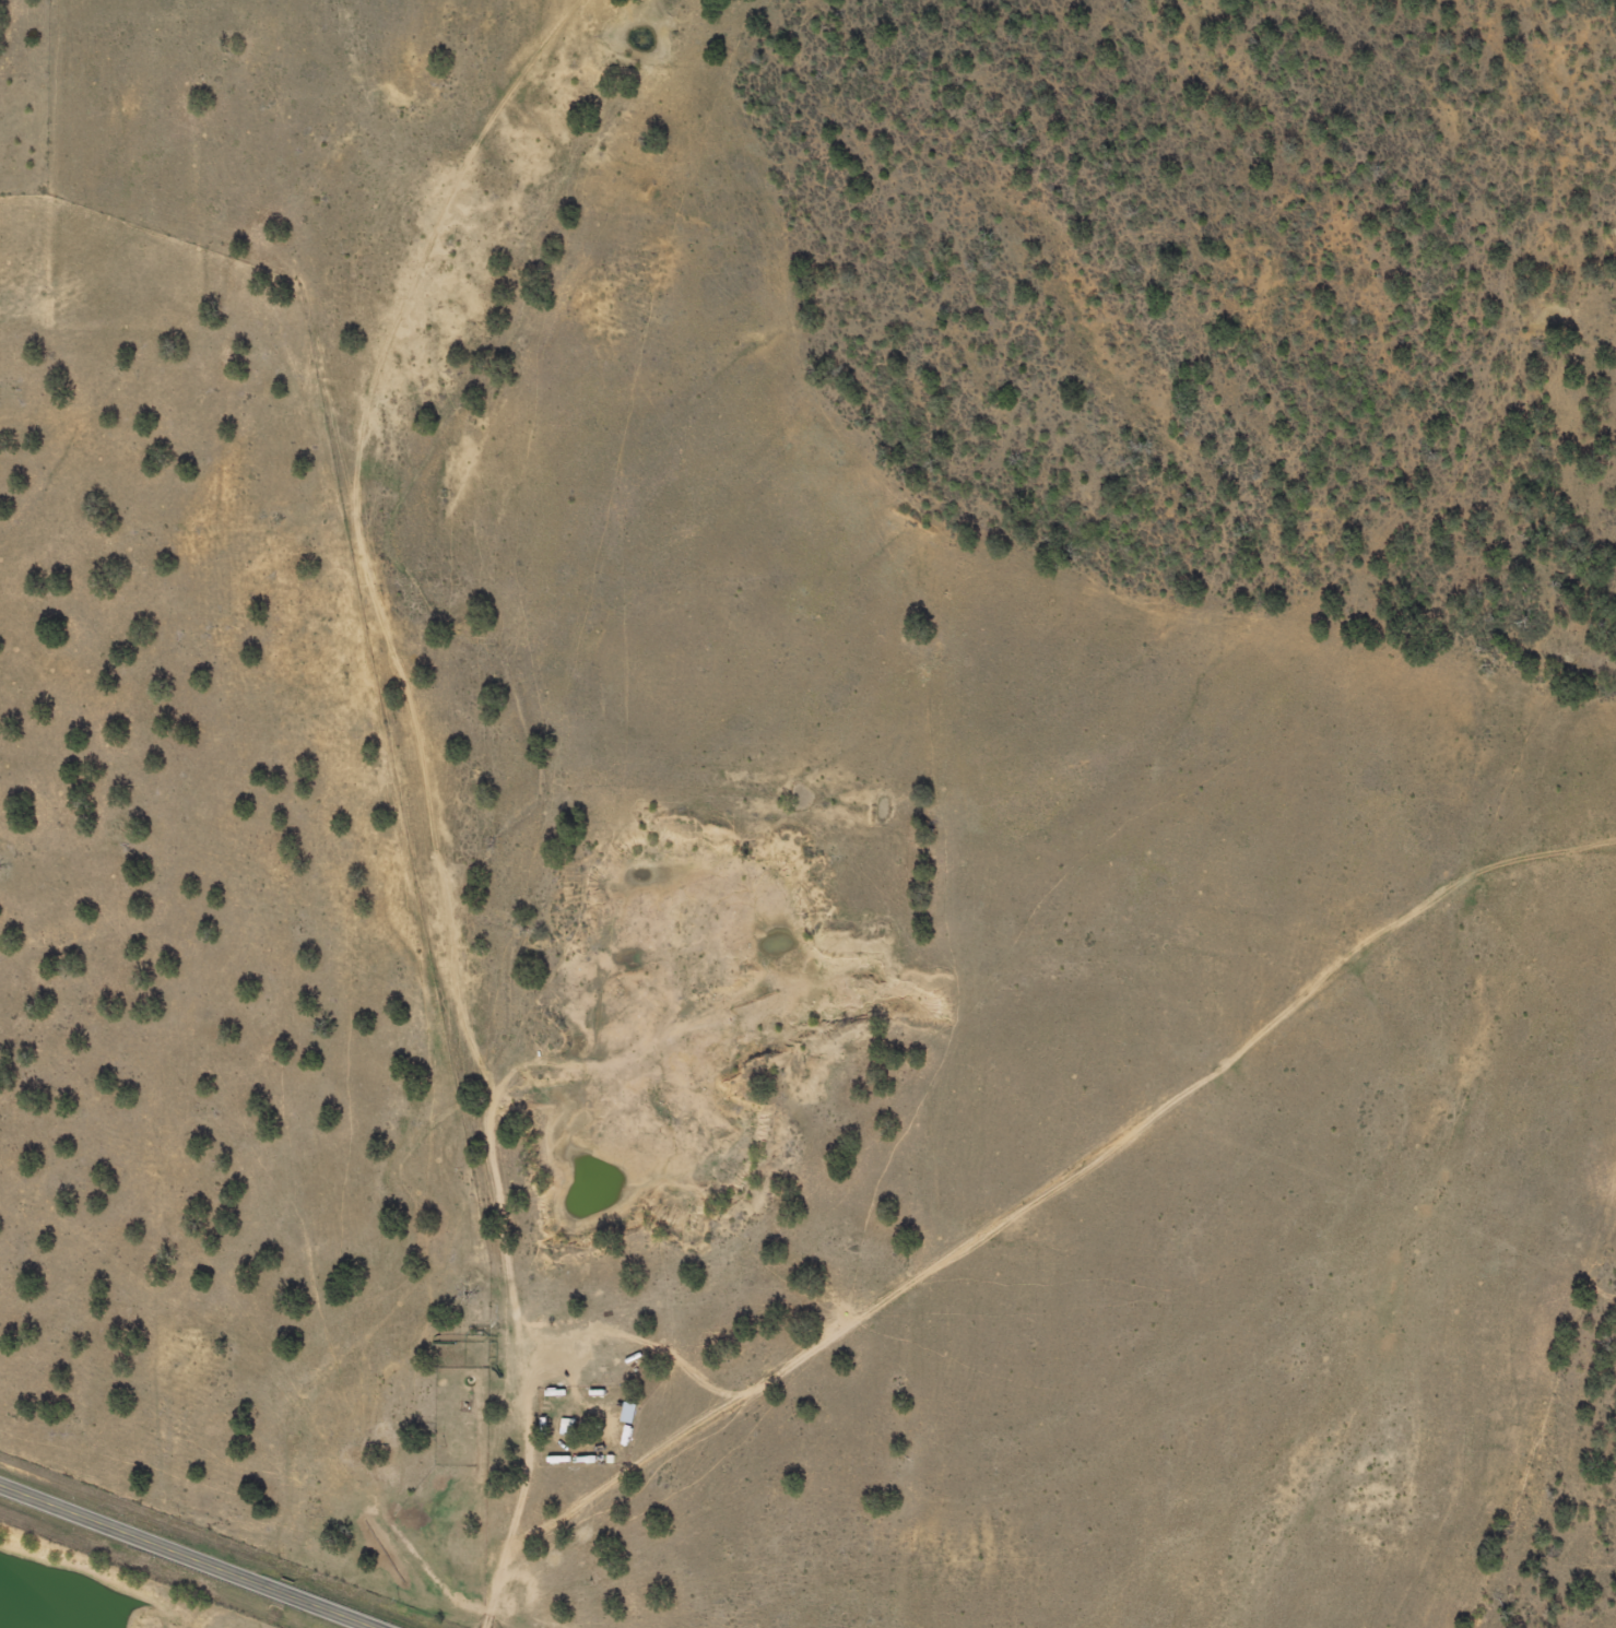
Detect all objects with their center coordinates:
road: (1043, 1211)
road: (526, 1367)
building: (568, 1426)
road: (197, 1553)

